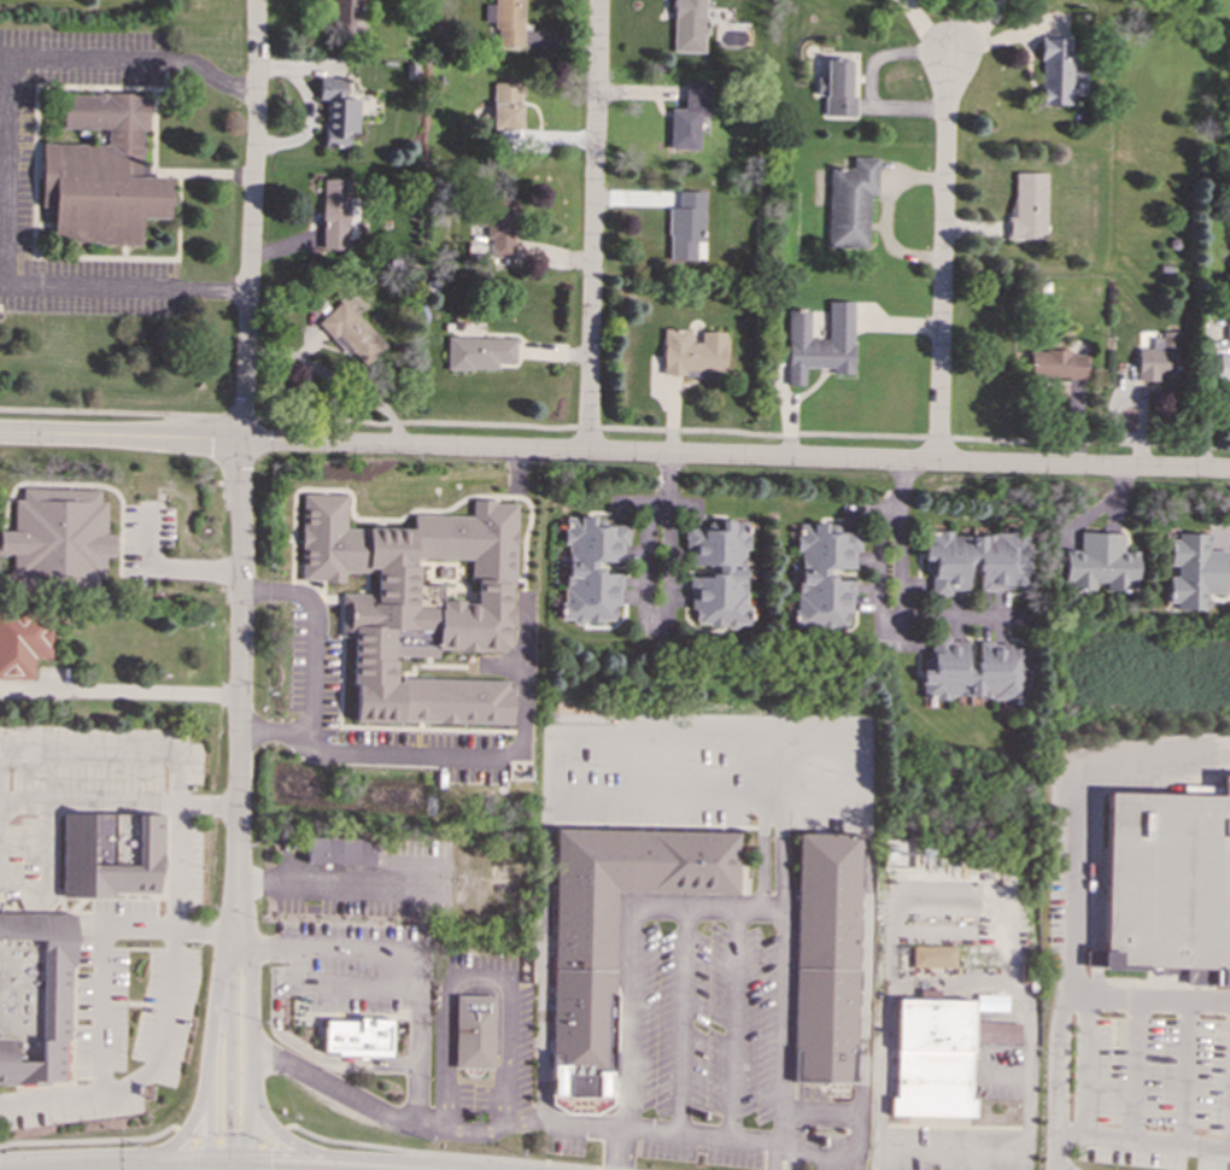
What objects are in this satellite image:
building: (344, 16)
building: (504, 21)
building: (687, 25)
building: (1058, 72)
road: (5, 77)
building: (837, 88)
building: (505, 105)
building: (336, 112)
building: (687, 117)
road: (6, 163)
parking lot: (16, 172)
building: (101, 172)
building: (850, 201)
building: (1027, 205)
building: (334, 213)
road: (591, 223)
building: (500, 227)
building: (685, 227)
road: (942, 255)
road: (1, 281)
building: (350, 332)
building: (1228, 333)
building: (820, 343)
building: (479, 352)
building: (692, 352)
building: (1156, 358)
building: (1056, 364)
building: (1223, 365)
road: (335, 378)
road: (241, 423)
road: (614, 427)
road: (293, 438)
road: (908, 458)
road: (517, 470)
road: (400, 517)
building: (58, 538)
building: (976, 560)
building: (1100, 563)
road: (163, 567)
building: (1194, 571)
building: (716, 573)
building: (824, 574)
road: (898, 586)
road: (645, 593)
building: (426, 618)
building: (22, 643)
building: (973, 671)
road: (130, 690)
road: (275, 730)
road: (552, 736)
road: (113, 750)
road: (382, 754)
road: (771, 767)
parking lot: (714, 770)
road: (118, 803)
road: (771, 805)
road: (549, 808)
building: (339, 850)
building: (109, 854)
road: (1076, 858)
road: (762, 859)
road: (779, 859)
road: (45, 870)
road: (238, 879)
parking lot: (365, 882)
road: (344, 883)
building: (1167, 885)
road: (176, 890)
road: (943, 896)
parking lot: (111, 913)
building: (610, 931)
road: (213, 935)
road: (632, 942)
road: (334, 948)
building: (932, 957)
building: (825, 958)
parking lot: (357, 964)
road: (473, 970)
road: (100, 971)
road: (947, 977)
road: (473, 979)
road: (340, 981)
building: (34, 996)
building: (990, 1002)
road: (1208, 1002)
road: (213, 1007)
road: (248, 1007)
road: (540, 1010)
road: (862, 1016)
road: (680, 1019)
road: (731, 1023)
road: (783, 1030)
building: (471, 1031)
parking lot: (514, 1031)
building: (357, 1036)
road: (416, 1036)
road: (307, 1052)
building: (938, 1055)
parking lot: (713, 1058)
road: (228, 1060)
road: (1083, 1067)
road: (1135, 1071)
road: (1184, 1074)
road: (1056, 1081)
road: (125, 1086)
parking lot: (1152, 1092)
road: (370, 1106)
road: (821, 1113)
road: (194, 1116)
road: (523, 1122)
traffic signals: (228, 1130)
traffic signals: (209, 1134)
road: (271, 1134)
road: (701, 1134)
road: (184, 1136)
road: (89, 1140)
road: (227, 1141)
road: (1143, 1141)
road: (619, 1148)
road: (449, 1153)
road: (193, 1156)
road: (259, 1156)
road: (357, 1157)
road: (780, 1160)
road: (957, 1162)
road: (218, 1168)
road: (236, 1168)
road: (257, 1168)
road: (165, 1169)
road: (207, 1169)
road: (229, 1169)
road: (244, 1169)
road: (244, 1169)
traffic signals: (269, 1169)

